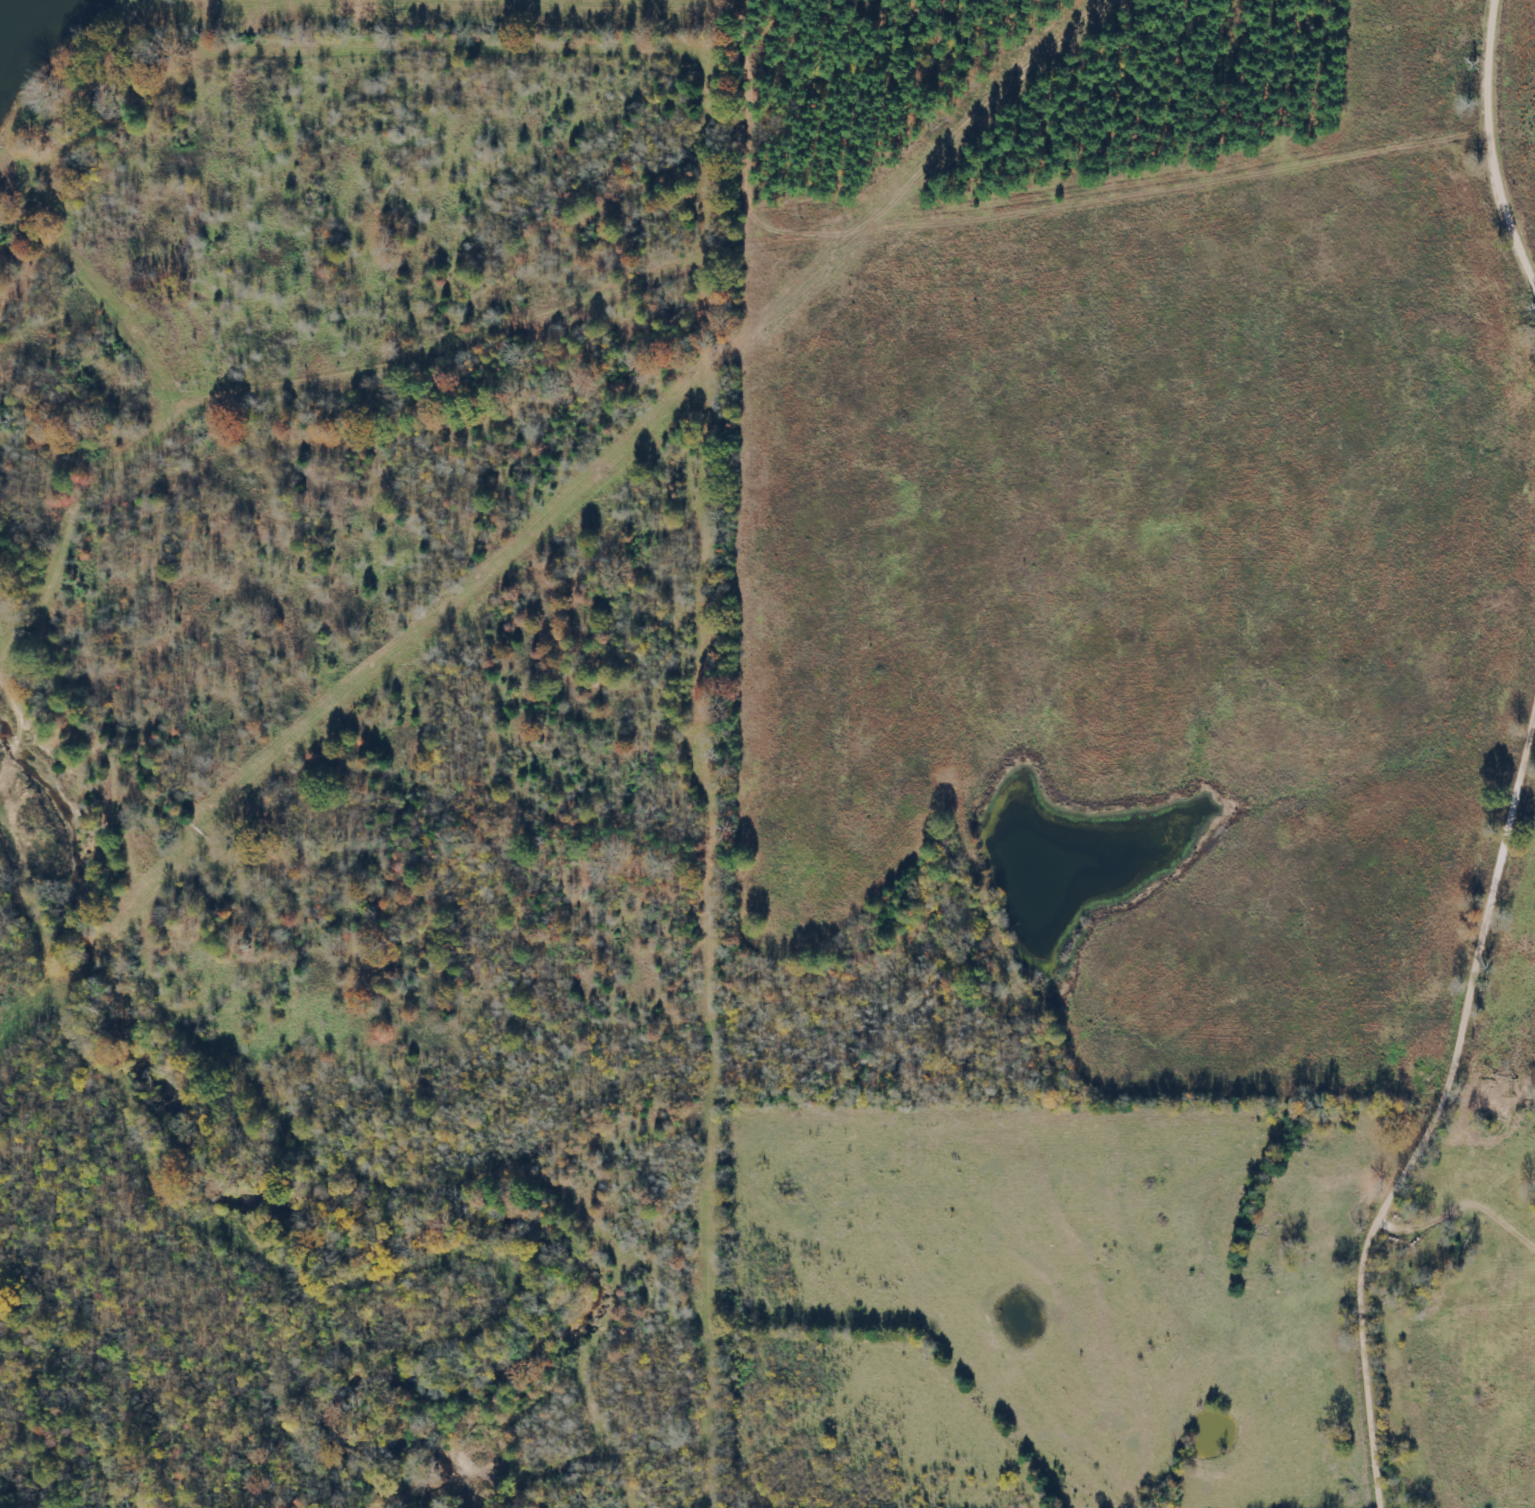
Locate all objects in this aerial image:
road: (1500, 134)
road: (1237, 563)
road: (1438, 1131)

